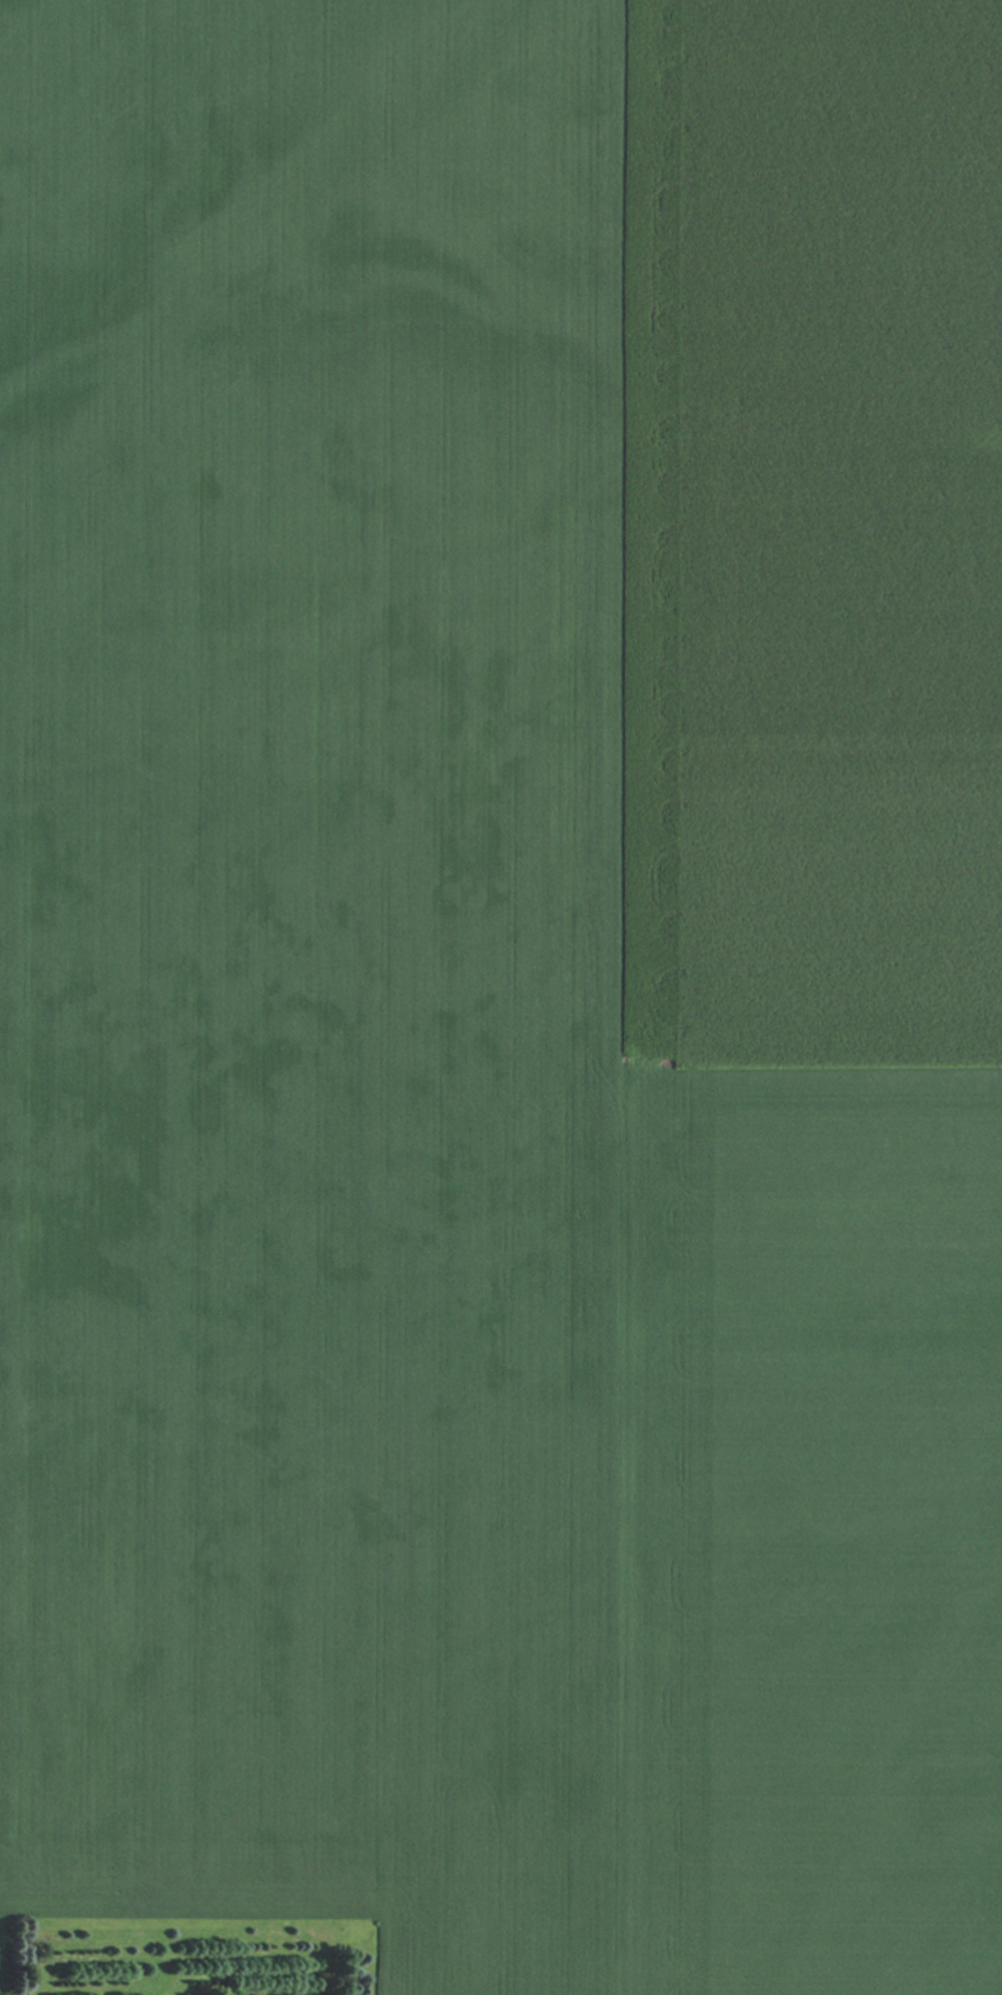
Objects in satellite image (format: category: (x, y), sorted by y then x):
crop: (816, 525)
crop: (333, 992)
crop: (845, 1521)

